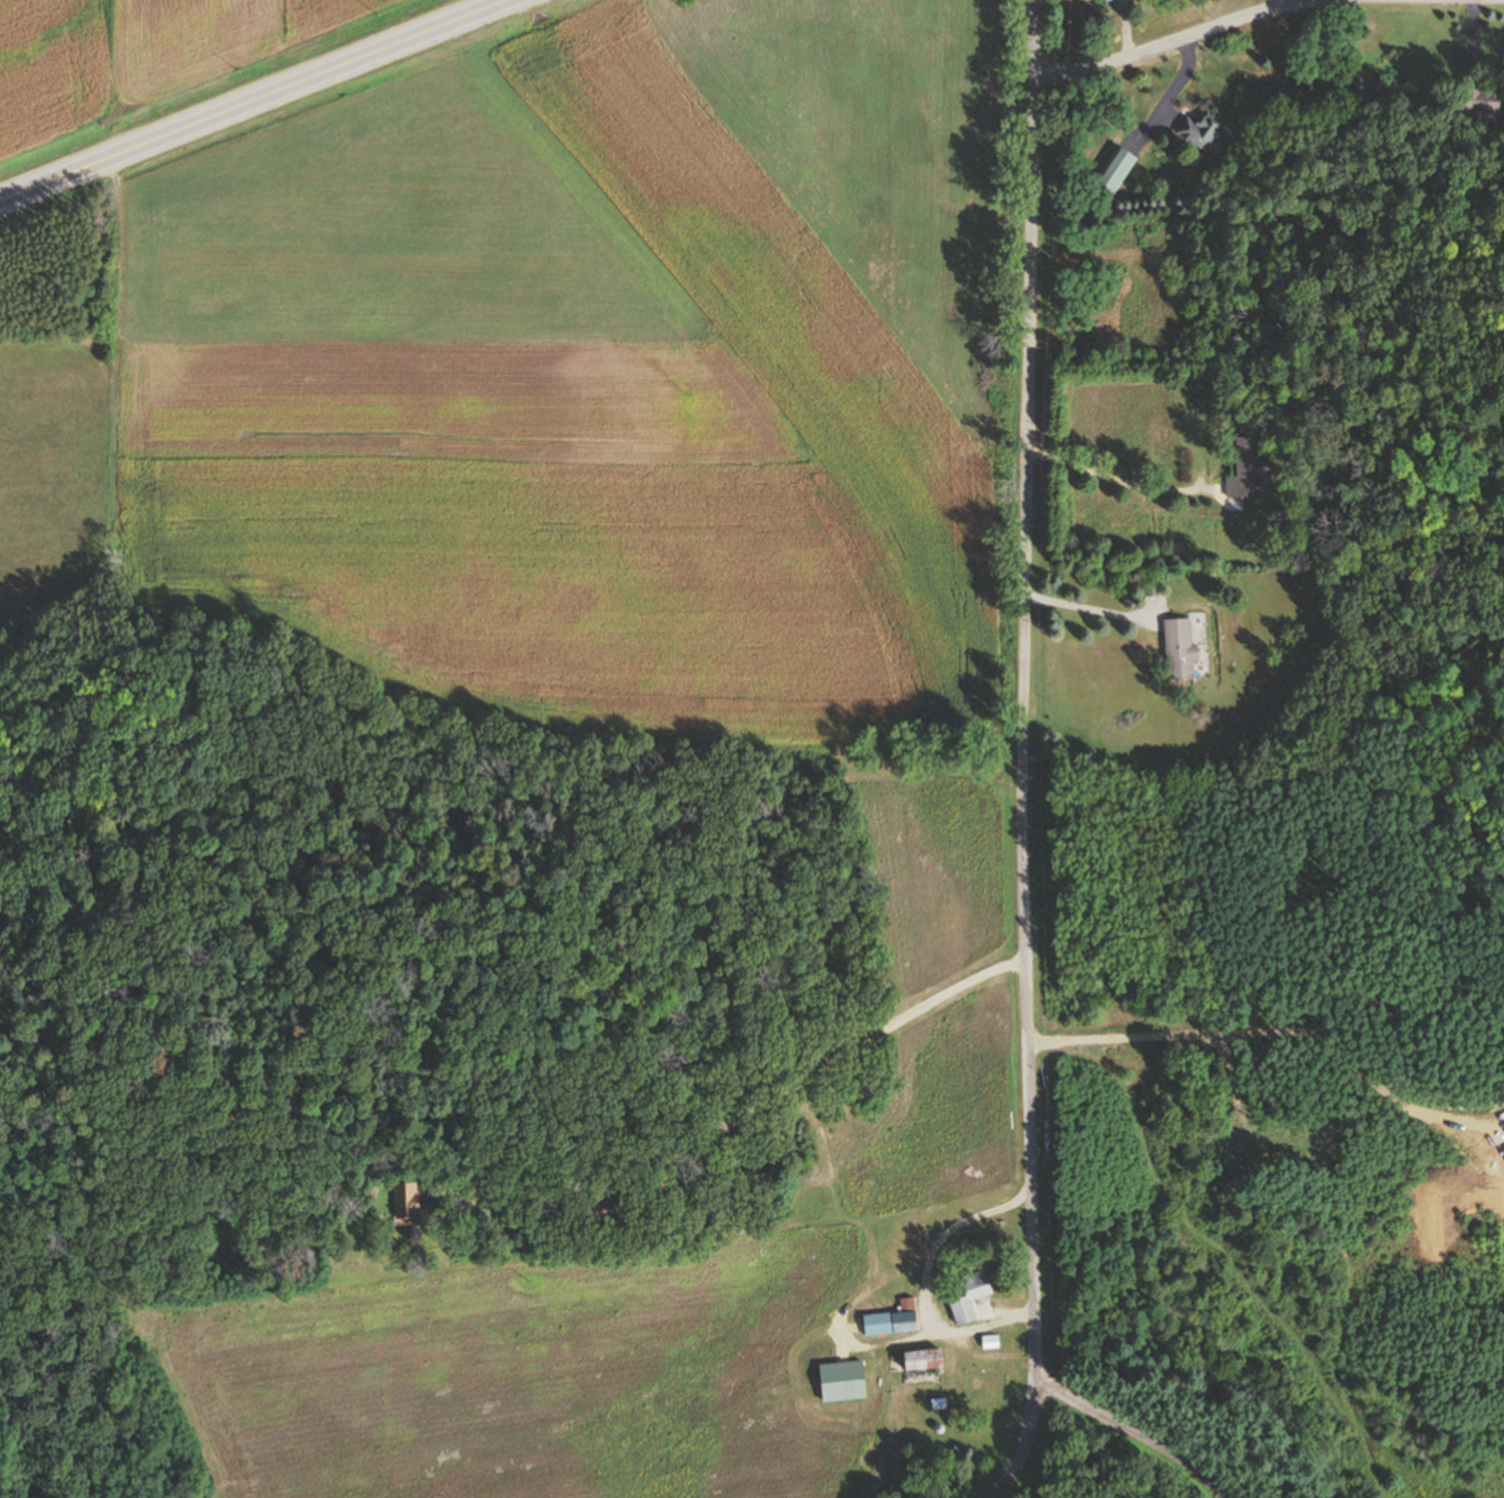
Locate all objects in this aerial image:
road: (1177, 40)
building: (1480, 97)
road: (252, 99)
building: (1201, 127)
building: (1114, 168)
building: (1245, 465)
road: (1122, 482)
road: (1092, 609)
building: (1178, 646)
road: (1022, 753)
road: (1253, 1035)
road: (752, 1113)
building: (409, 1198)
building: (608, 1209)
road: (928, 1286)
building: (968, 1295)
building: (891, 1319)
building: (990, 1341)
building: (921, 1359)
building: (938, 1403)
road: (1135, 1432)

